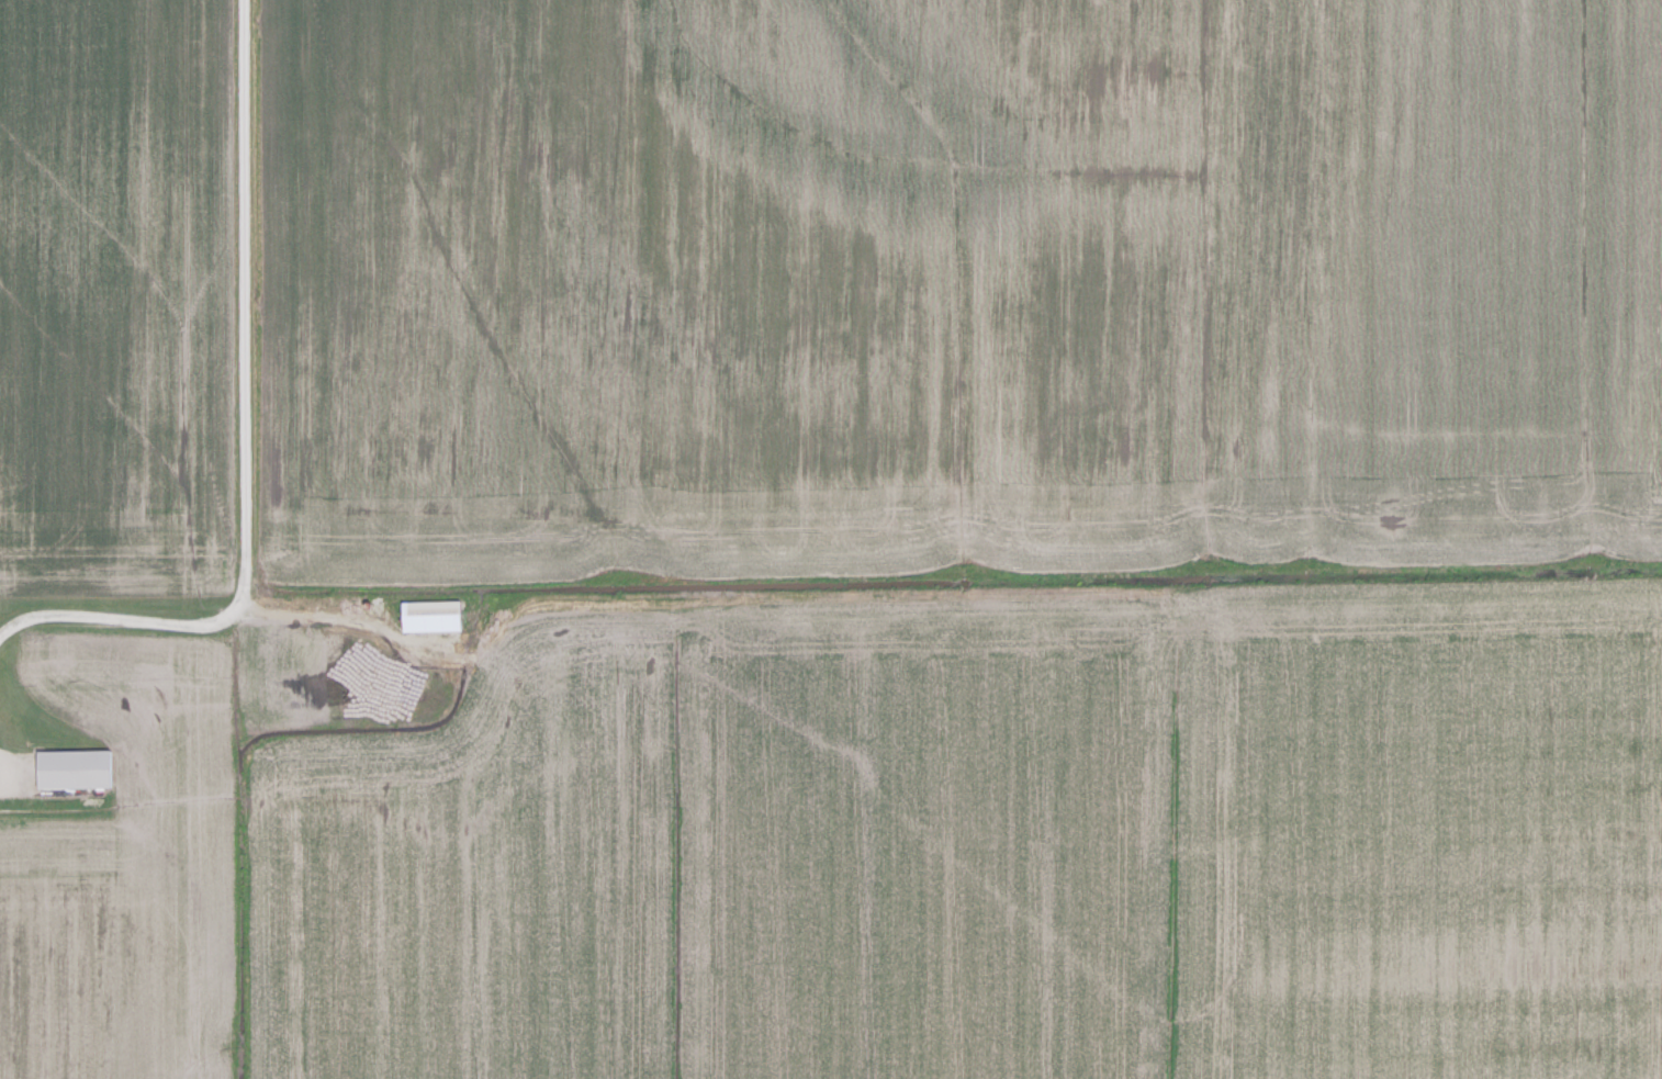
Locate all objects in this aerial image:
road: (198, 404)
building: (439, 616)
building: (80, 768)

